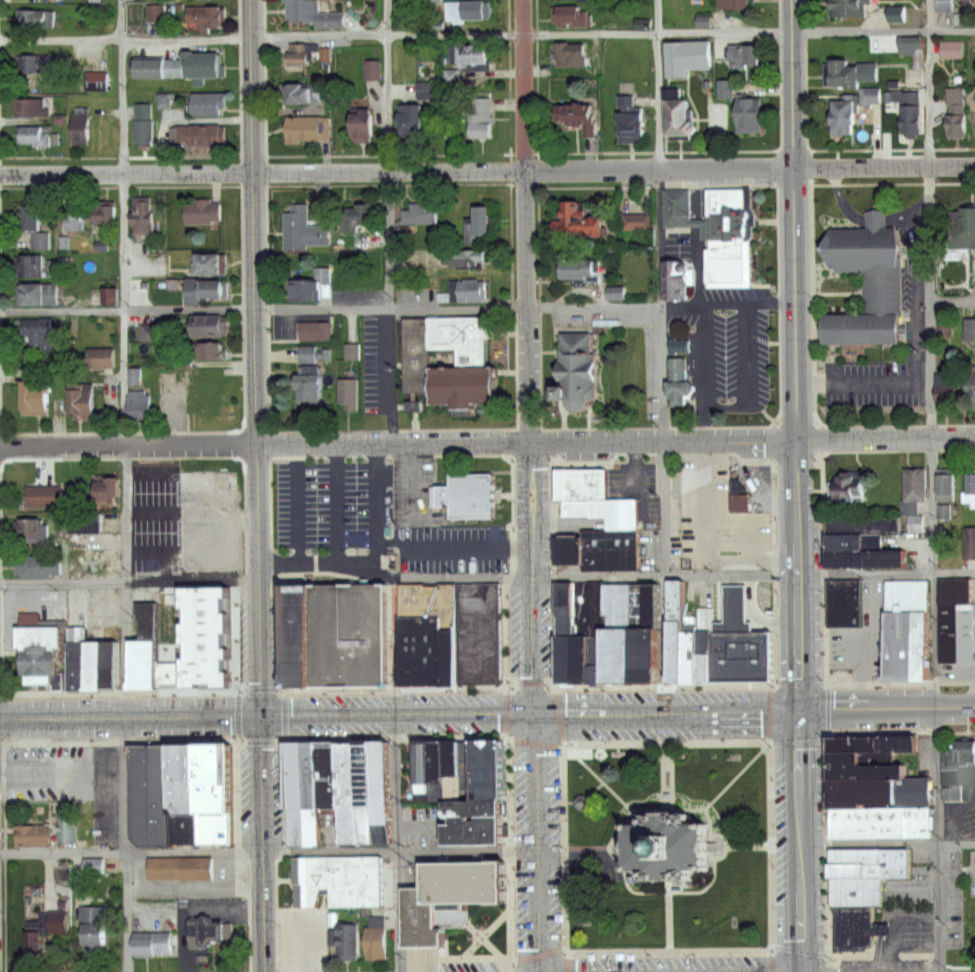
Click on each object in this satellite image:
building: (432, 0)
building: (567, 0)
building: (739, 2)
building: (940, 5)
building: (850, 8)
building: (467, 10)
building: (153, 13)
building: (314, 13)
building: (209, 14)
building: (893, 14)
building: (36, 16)
building: (571, 17)
road: (487, 35)
building: (912, 45)
building: (953, 49)
building: (307, 52)
building: (747, 53)
building: (470, 55)
building: (571, 55)
building: (687, 56)
building: (37, 64)
building: (160, 67)
building: (203, 67)
building: (370, 71)
building: (850, 71)
building: (453, 77)
building: (93, 82)
building: (302, 90)
building: (729, 90)
building: (210, 103)
building: (29, 107)
building: (417, 110)
building: (850, 110)
building: (911, 110)
building: (957, 111)
building: (578, 114)
building: (751, 114)
building: (482, 118)
building: (631, 118)
building: (675, 121)
building: (143, 123)
building: (363, 125)
building: (309, 128)
building: (80, 130)
building: (34, 134)
building: (202, 135)
road: (657, 152)
road: (884, 167)
road: (397, 170)
building: (678, 208)
building: (202, 211)
building: (423, 211)
building: (103, 214)
building: (144, 215)
building: (361, 215)
building: (29, 216)
building: (73, 216)
building: (579, 220)
building: (633, 220)
road: (123, 221)
road: (390, 221)
building: (481, 223)
building: (963, 228)
building: (304, 229)
building: (728, 231)
building: (362, 241)
building: (465, 257)
building: (207, 260)
building: (29, 265)
building: (581, 270)
parking lot: (915, 275)
building: (679, 277)
building: (862, 280)
building: (310, 284)
building: (206, 288)
building: (418, 288)
building: (471, 289)
building: (611, 292)
building: (37, 294)
building: (106, 296)
road: (951, 301)
road: (398, 308)
building: (204, 324)
building: (312, 330)
building: (970, 330)
building: (152, 331)
building: (40, 332)
building: (209, 339)
building: (675, 346)
parking lot: (734, 346)
building: (317, 353)
building: (419, 354)
road: (704, 354)
road: (797, 354)
road: (530, 355)
road: (256, 356)
building: (101, 357)
building: (463, 362)
building: (576, 367)
road: (745, 372)
road: (659, 373)
building: (133, 375)
building: (681, 381)
building: (215, 384)
building: (969, 384)
building: (941, 387)
building: (312, 388)
building: (349, 393)
building: (36, 396)
building: (140, 400)
building: (84, 402)
road: (928, 421)
road: (704, 422)
road: (886, 439)
road: (399, 444)
building: (581, 476)
building: (914, 477)
road: (413, 481)
building: (848, 481)
parking lot: (411, 484)
building: (100, 487)
building: (943, 488)
building: (467, 490)
building: (969, 492)
building: (108, 493)
building: (44, 495)
building: (735, 496)
road: (336, 500)
building: (605, 505)
parking lot: (328, 506)
road: (661, 507)
road: (126, 509)
road: (298, 510)
parking lot: (188, 512)
parking lot: (712, 522)
building: (912, 523)
building: (28, 529)
building: (93, 531)
building: (601, 542)
road: (453, 544)
building: (968, 546)
parking lot: (452, 549)
building: (858, 550)
road: (372, 554)
building: (37, 563)
road: (664, 572)
road: (886, 573)
road: (130, 576)
building: (842, 606)
building: (950, 614)
building: (618, 623)
building: (902, 624)
building: (338, 625)
building: (478, 626)
building: (427, 627)
building: (78, 634)
building: (187, 636)
building: (575, 636)
building: (741, 637)
building: (693, 641)
building: (644, 644)
road: (125, 645)
building: (42, 650)
building: (102, 657)
road: (888, 708)
traffic signals: (801, 710)
road: (400, 711)
traffic signals: (533, 711)
traffic signals: (265, 713)
road: (282, 721)
building: (872, 732)
road: (768, 740)
building: (429, 754)
building: (486, 757)
building: (961, 758)
building: (863, 759)
road: (507, 762)
building: (54, 768)
road: (665, 770)
road: (735, 773)
parking lot: (62, 775)
road: (113, 782)
building: (206, 784)
road: (670, 784)
building: (861, 785)
building: (154, 788)
building: (377, 789)
building: (952, 793)
building: (361, 795)
building: (295, 796)
building: (311, 796)
building: (346, 796)
road: (584, 796)
building: (328, 797)
building: (581, 800)
building: (474, 812)
building: (880, 816)
building: (67, 820)
building: (34, 831)
road: (533, 841)
road: (801, 841)
road: (264, 842)
road: (396, 842)
road: (888, 842)
road: (621, 843)
road: (743, 844)
road: (398, 845)
road: (586, 847)
road: (131, 848)
building: (663, 851)
road: (567, 853)
building: (870, 861)
building: (92, 864)
building: (178, 866)
building: (486, 871)
building: (445, 872)
building: (342, 882)
building: (856, 886)
road: (658, 890)
road: (939, 907)
road: (129, 910)
building: (420, 913)
building: (94, 918)
road: (666, 919)
building: (60, 922)
building: (974, 922)
building: (856, 924)
building: (207, 928)
road: (278, 929)
road: (485, 930)
building: (348, 935)
road: (483, 936)
building: (155, 937)
building: (376, 939)
parking lot: (303, 943)

